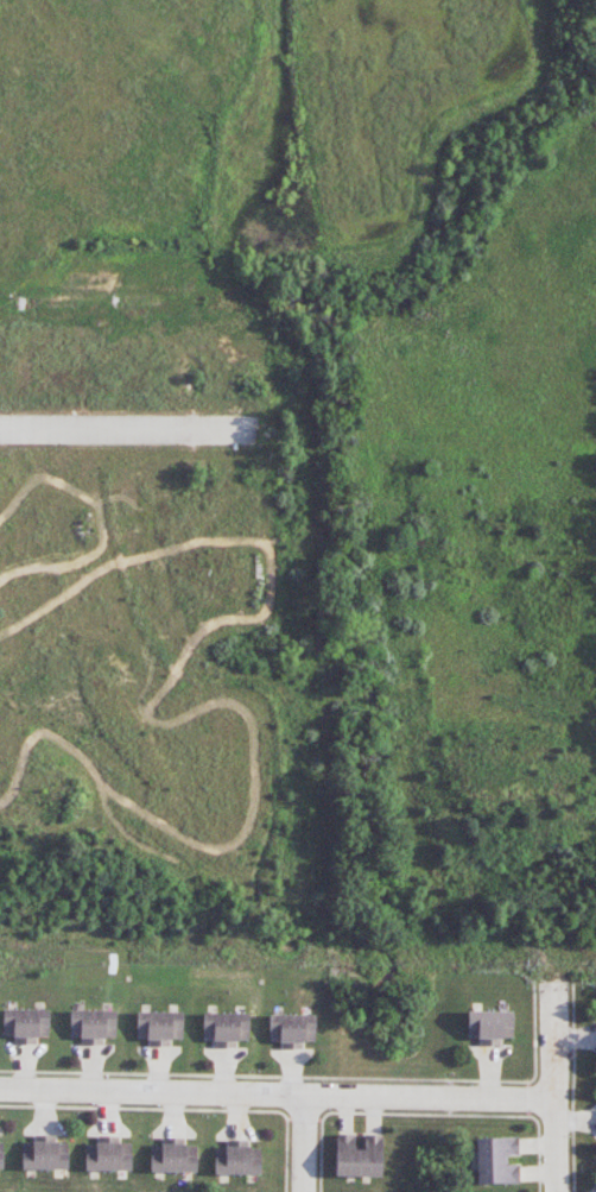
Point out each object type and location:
road: (129, 431)
building: (26, 1024)
building: (93, 1026)
building: (488, 1026)
building: (159, 1027)
building: (226, 1028)
building: (291, 1029)
road: (557, 1081)
road: (278, 1096)
road: (304, 1144)
building: (45, 1153)
building: (1, 1154)
building: (108, 1155)
building: (357, 1155)
building: (173, 1156)
building: (237, 1159)
building: (495, 1160)

